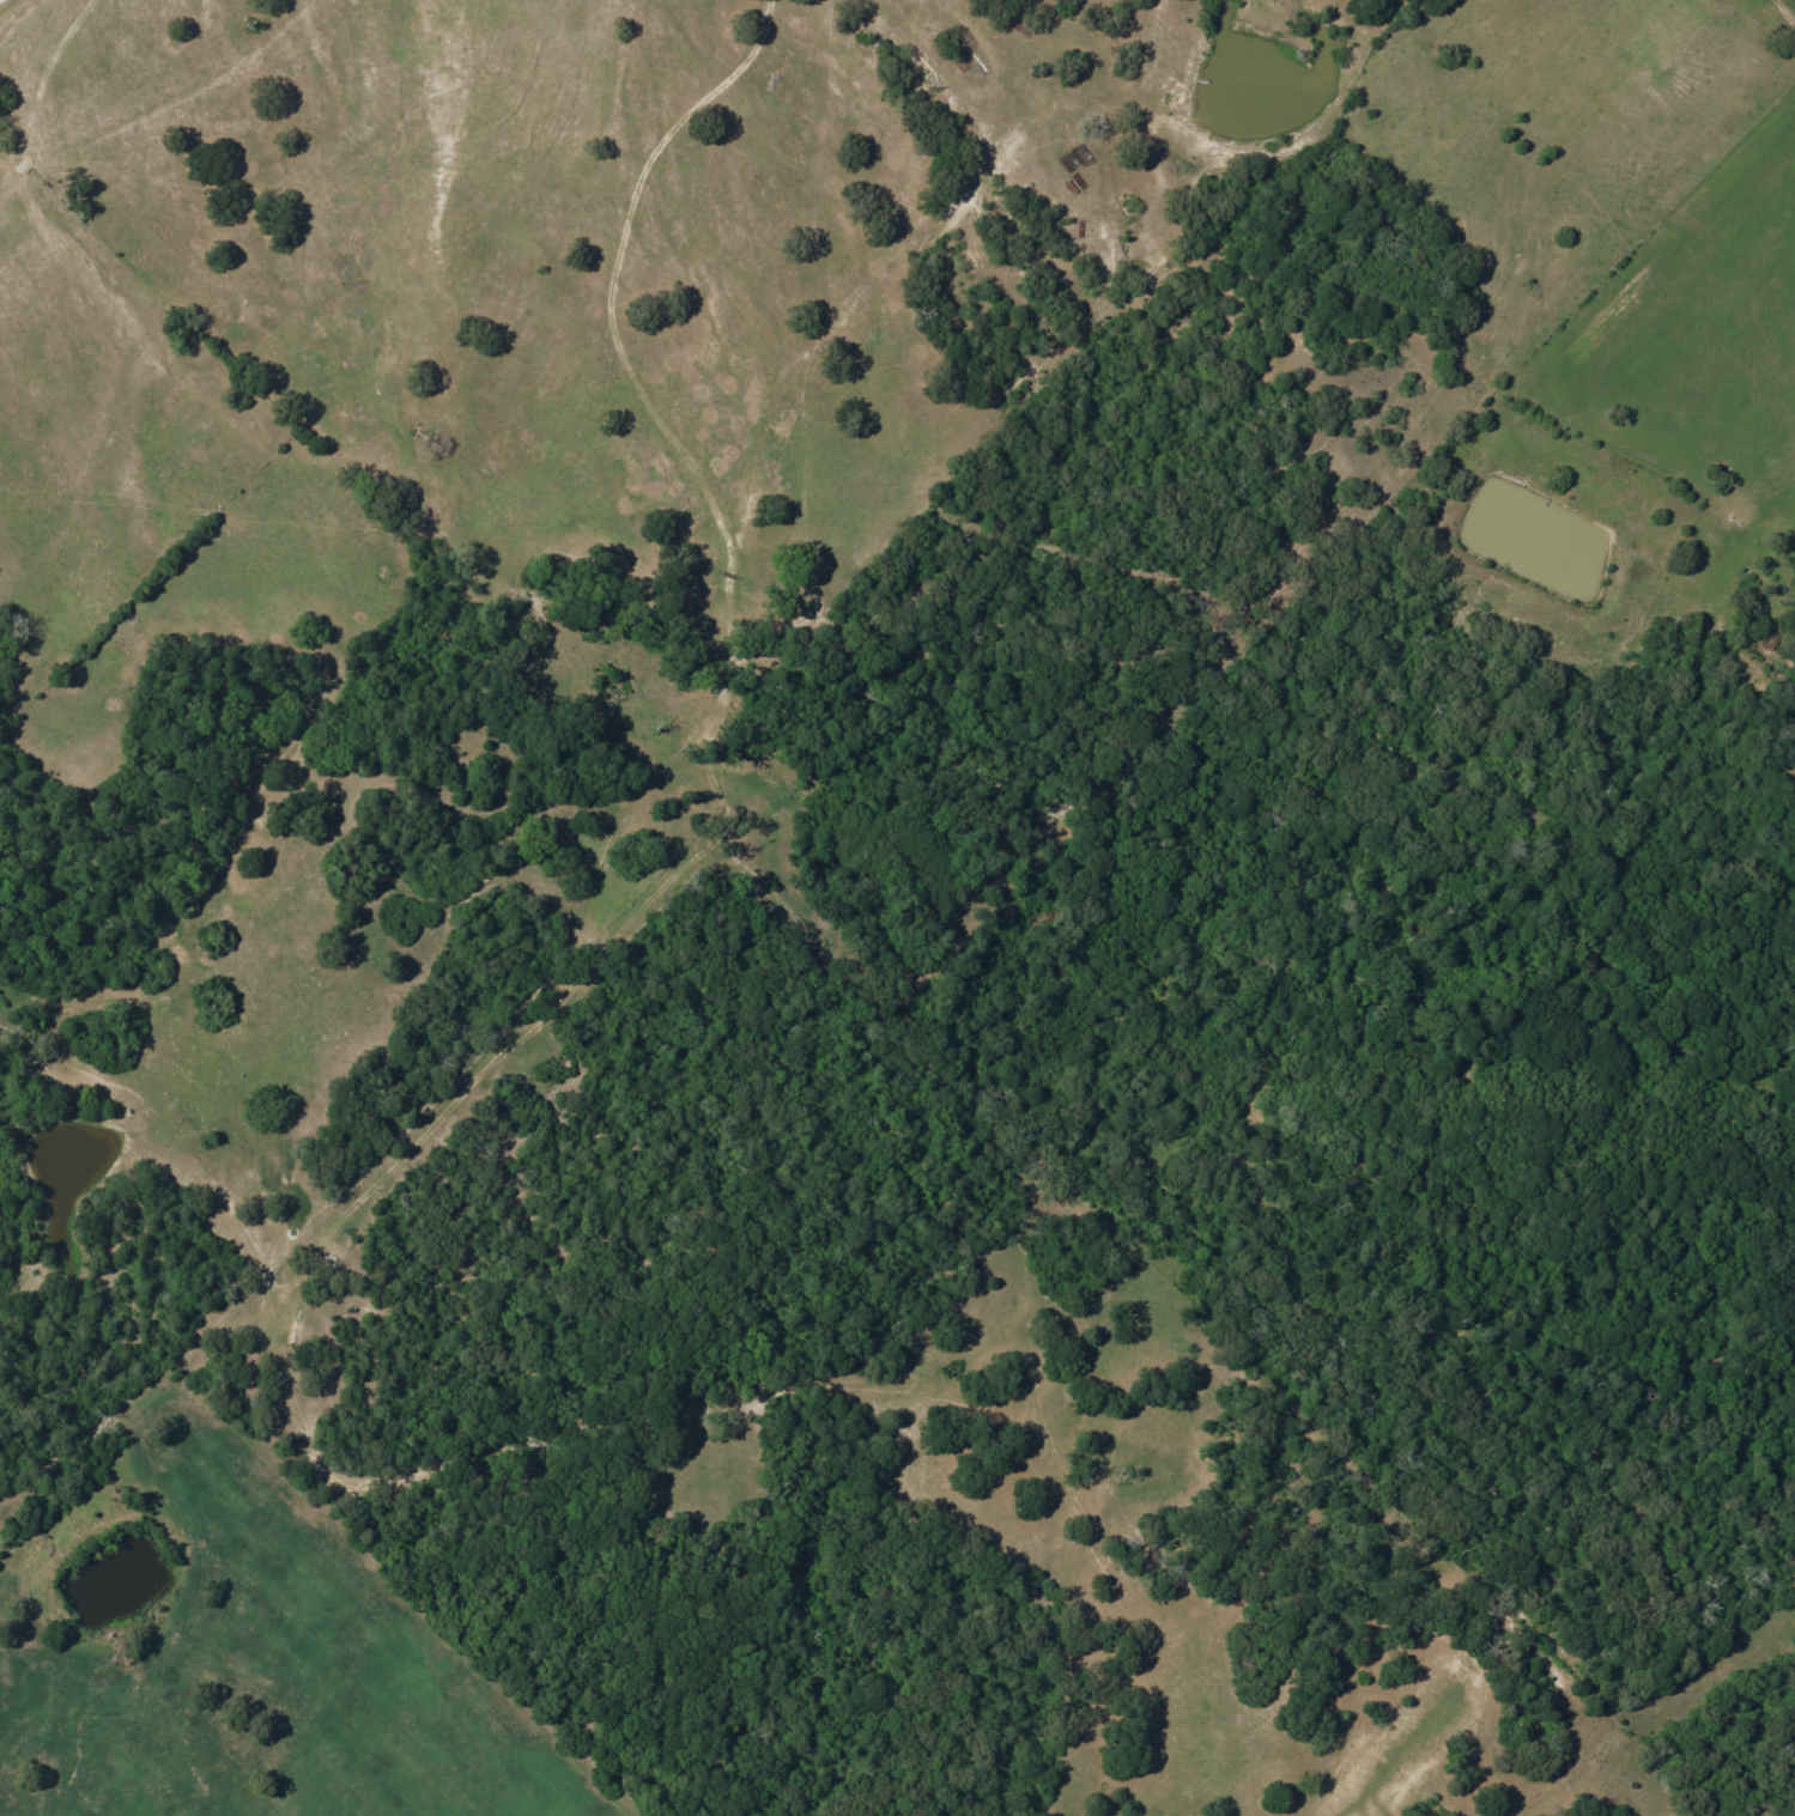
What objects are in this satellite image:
road: (1511, 96)

